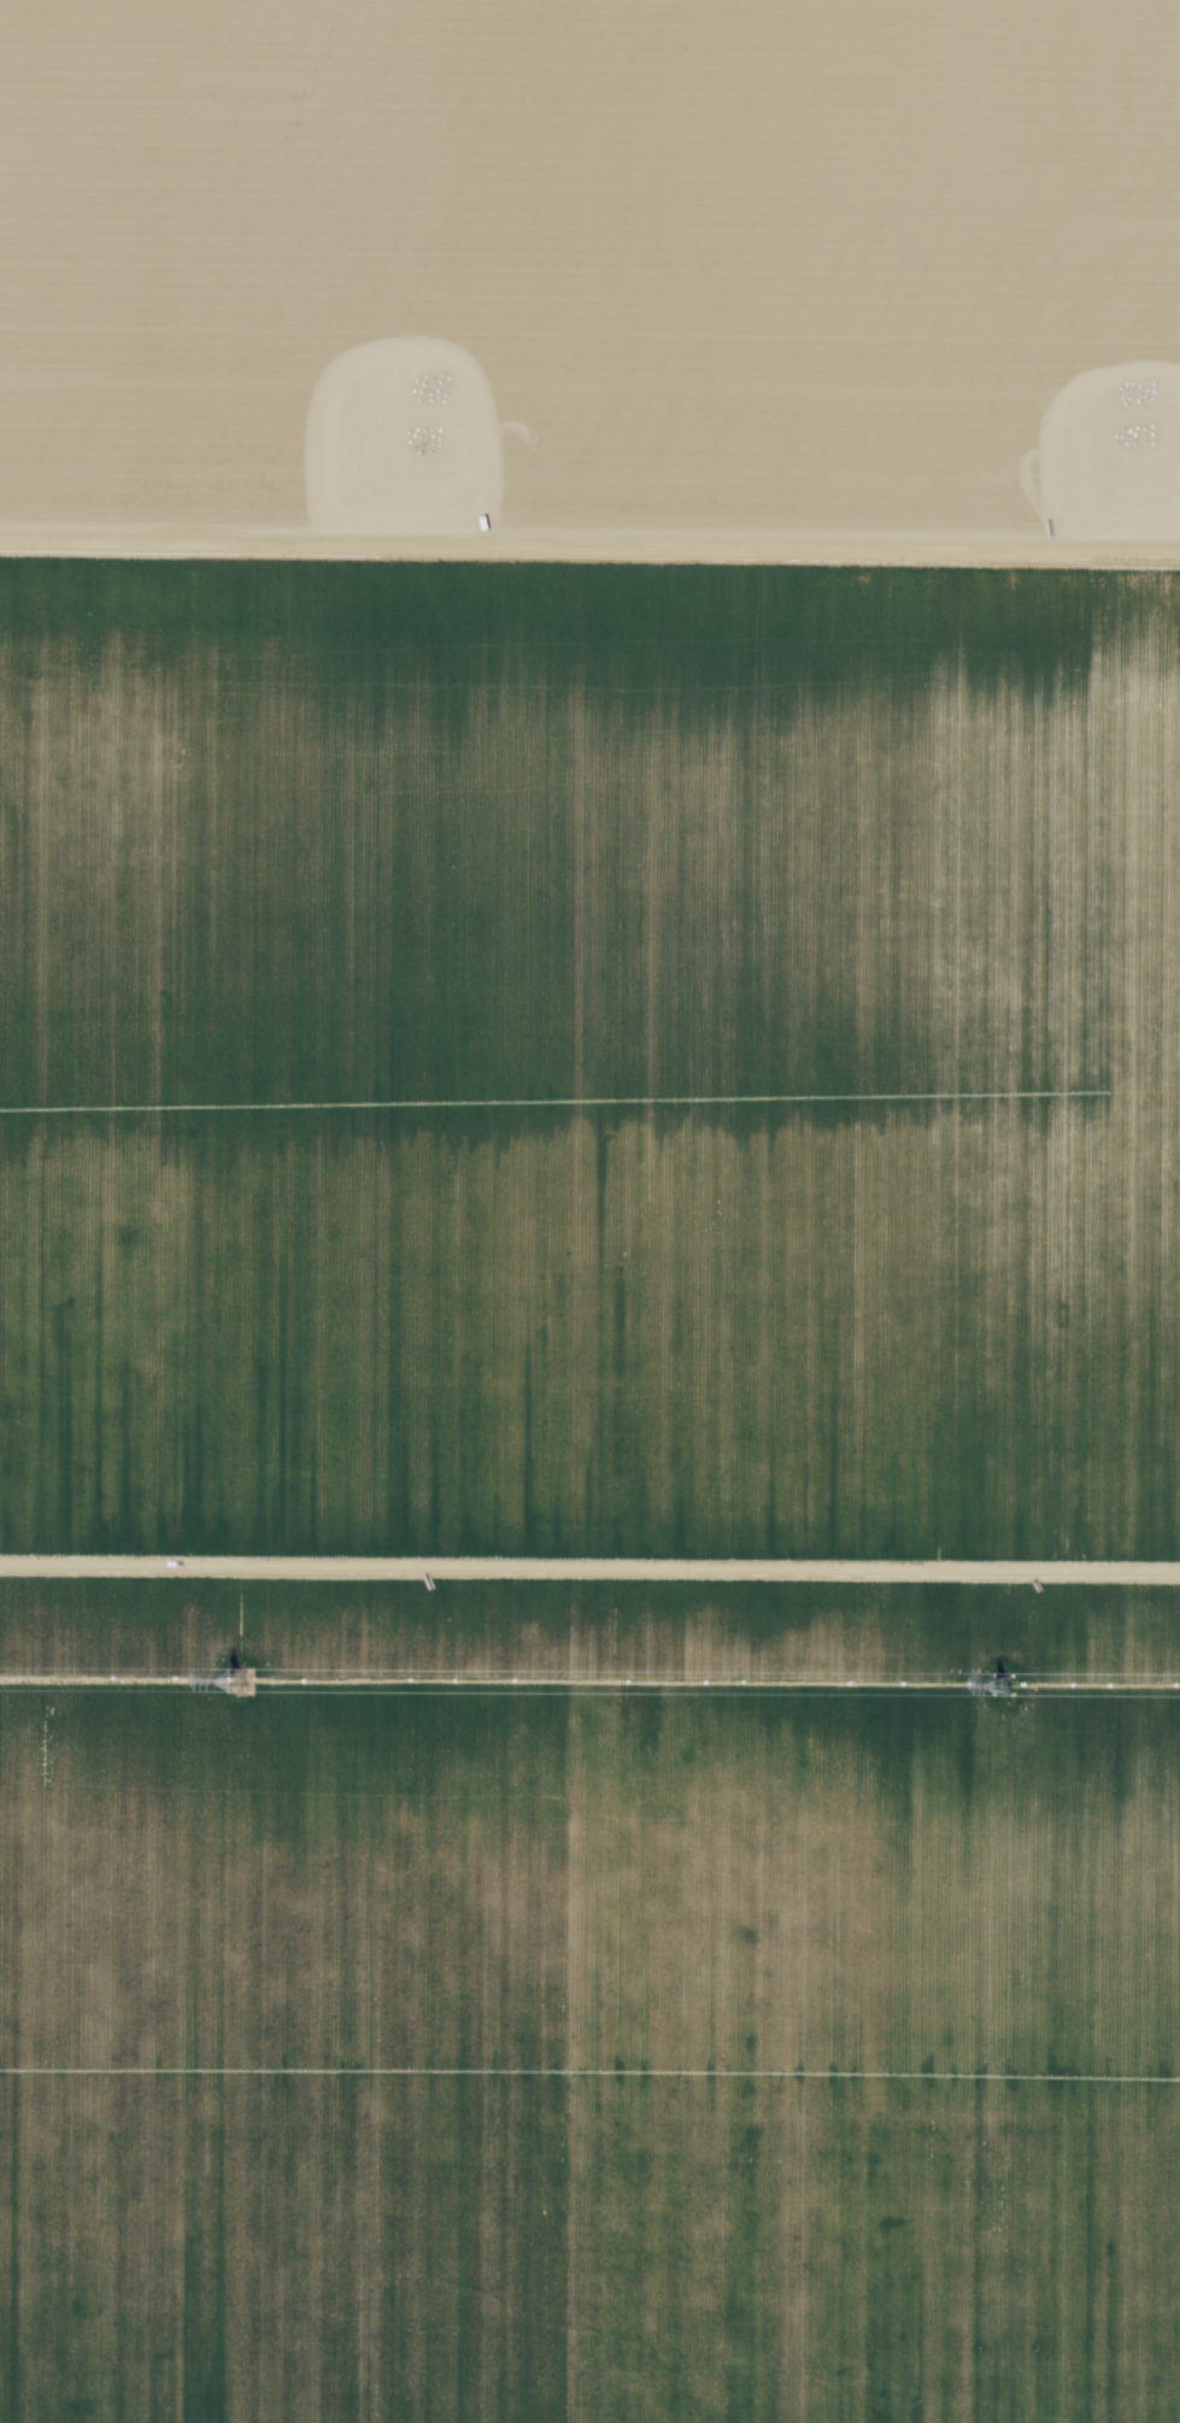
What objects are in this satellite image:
road: (589, 540)
crop: (589, 1491)
power tower: (233, 1682)
power tower: (996, 1685)

